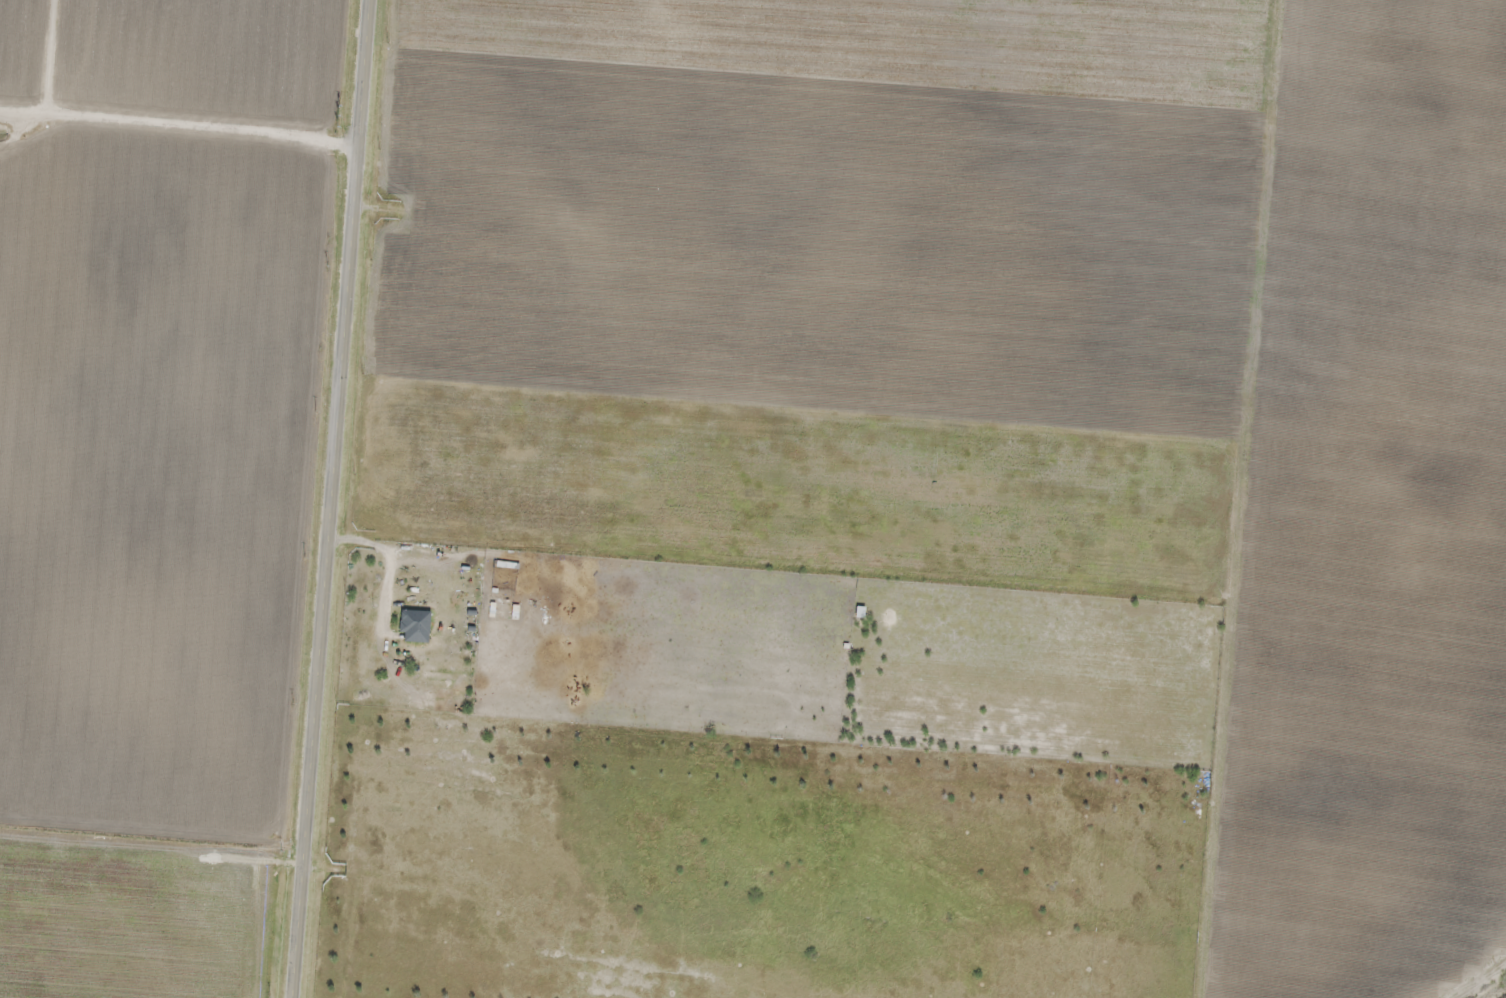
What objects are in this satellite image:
road: (329, 498)
road: (151, 840)

